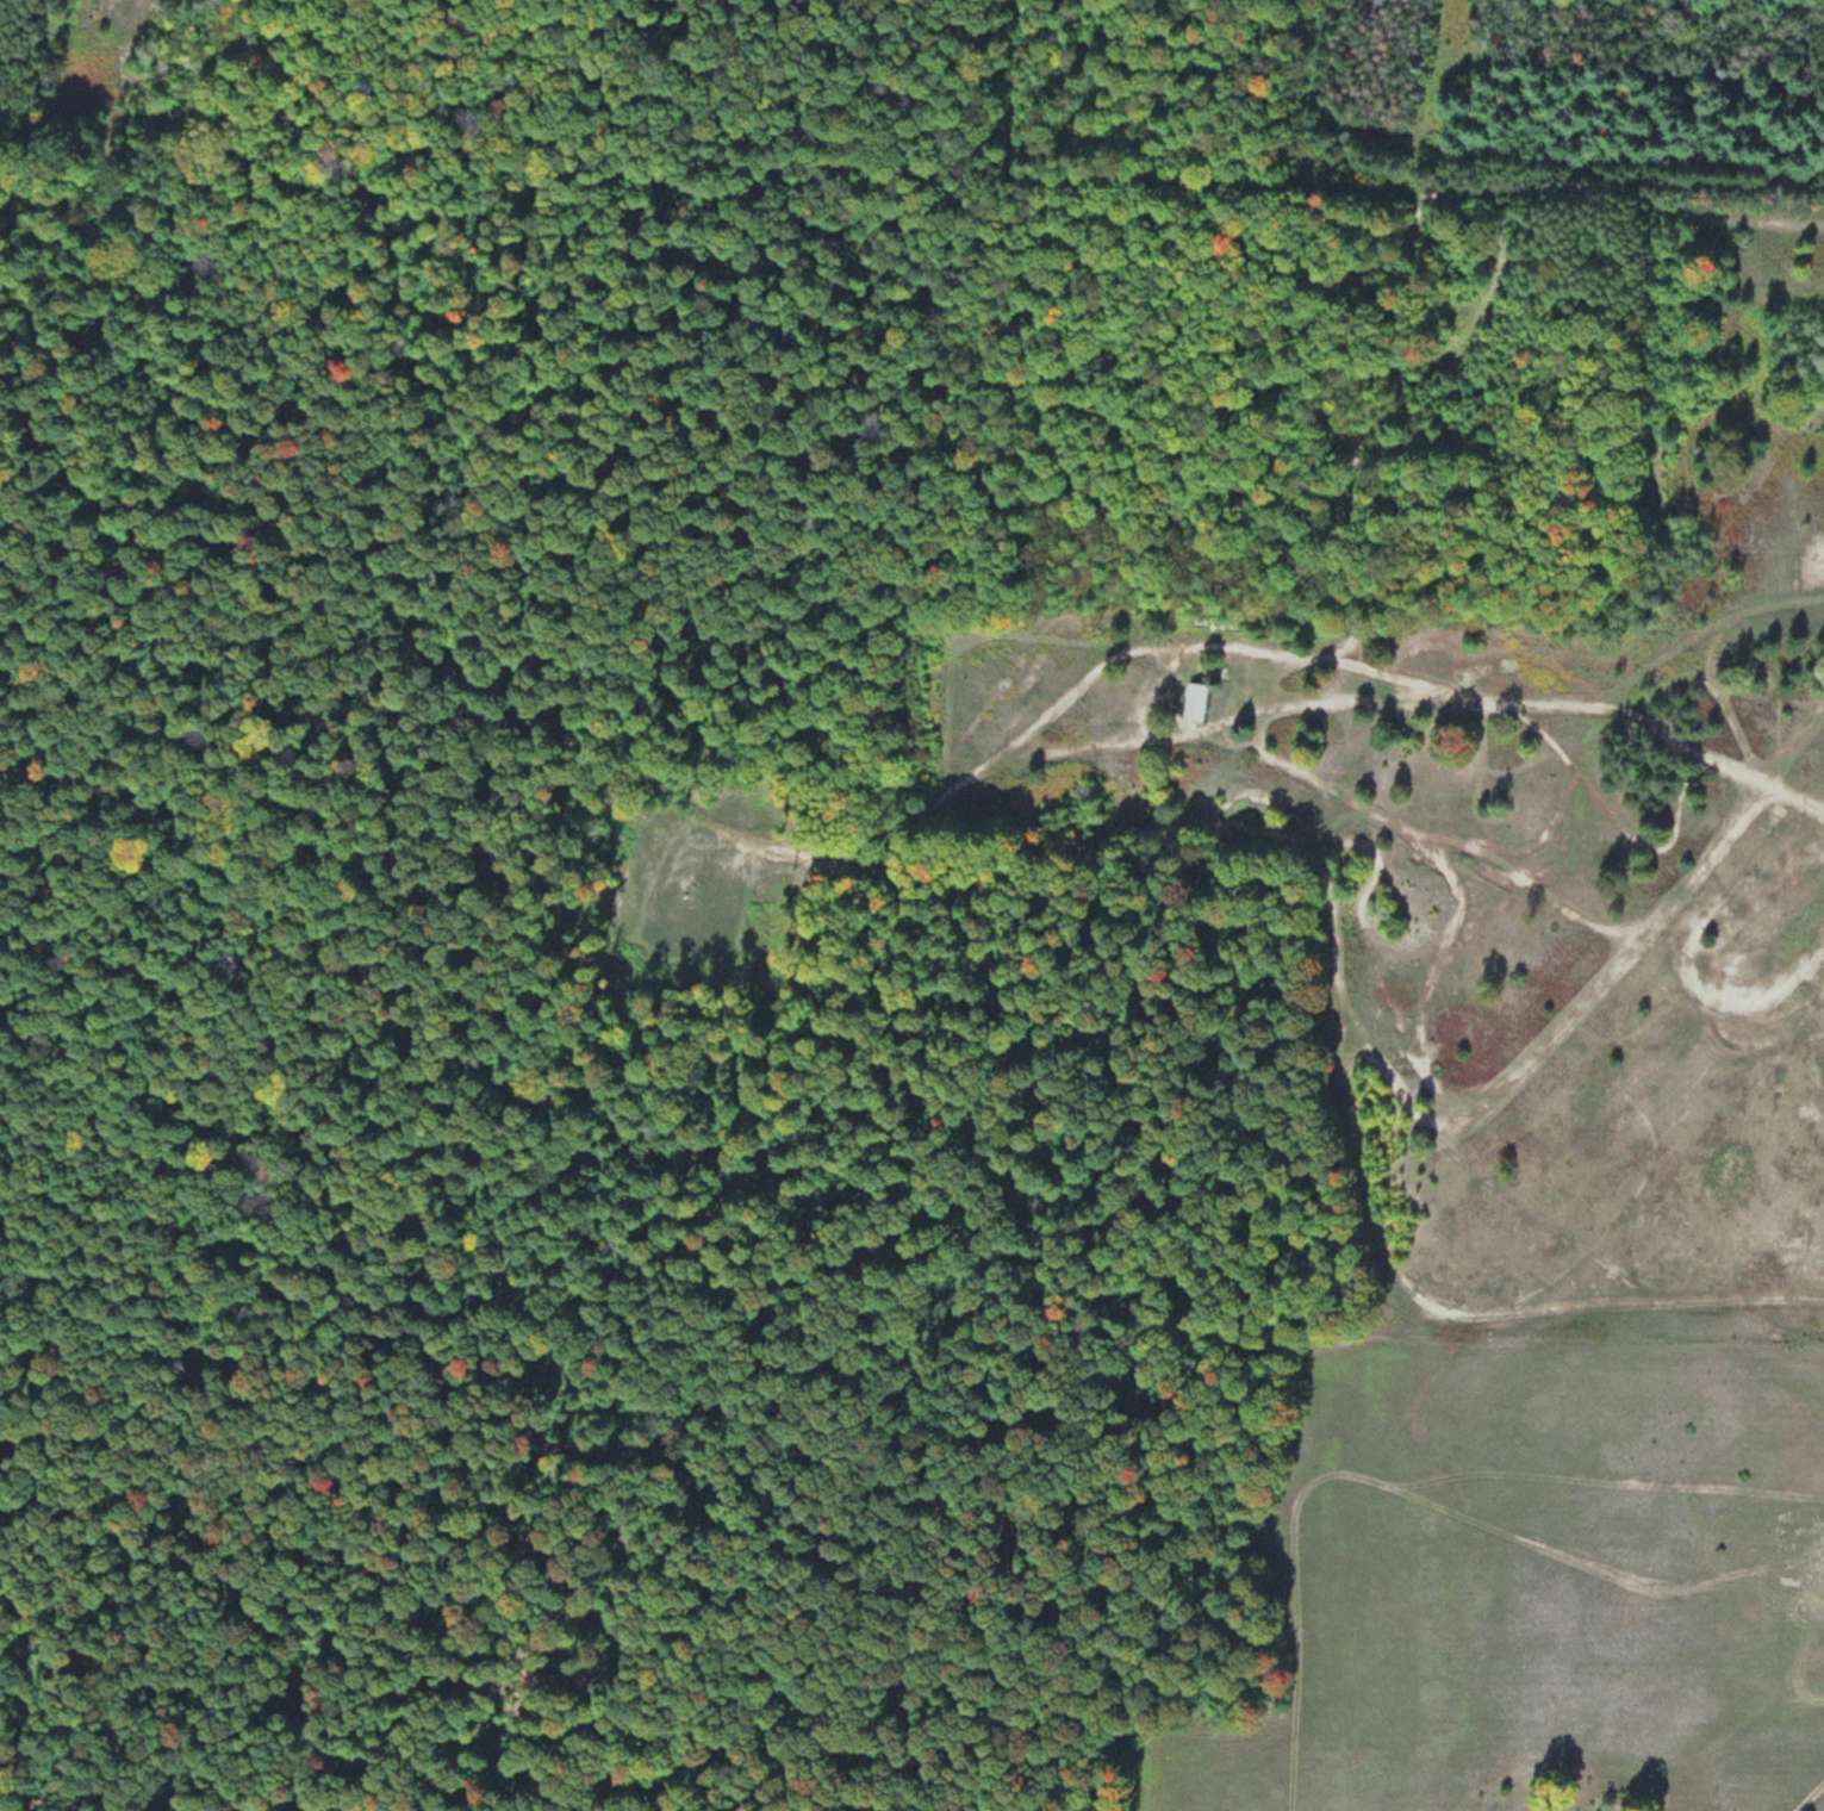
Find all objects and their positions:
building: (1193, 703)

